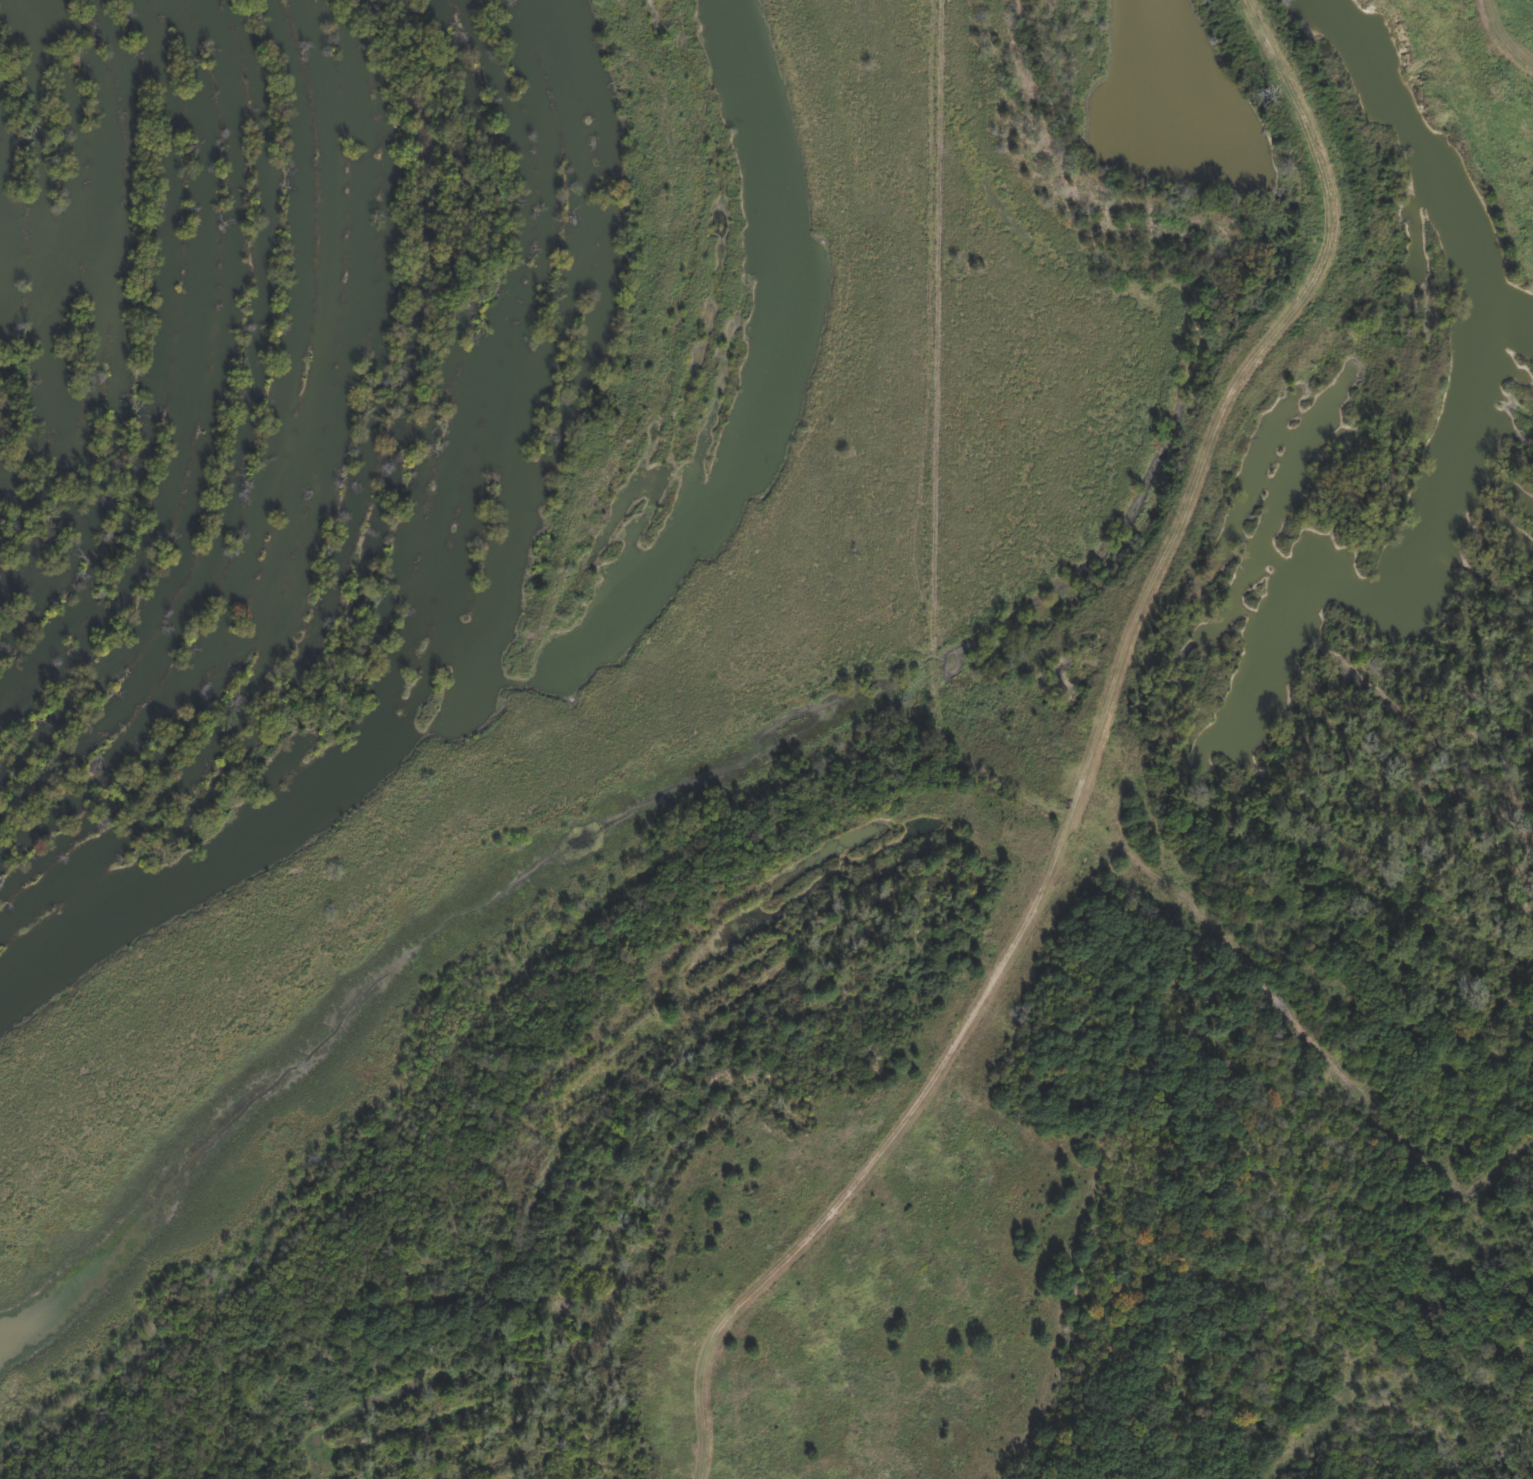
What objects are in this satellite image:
road: (510, 645)

